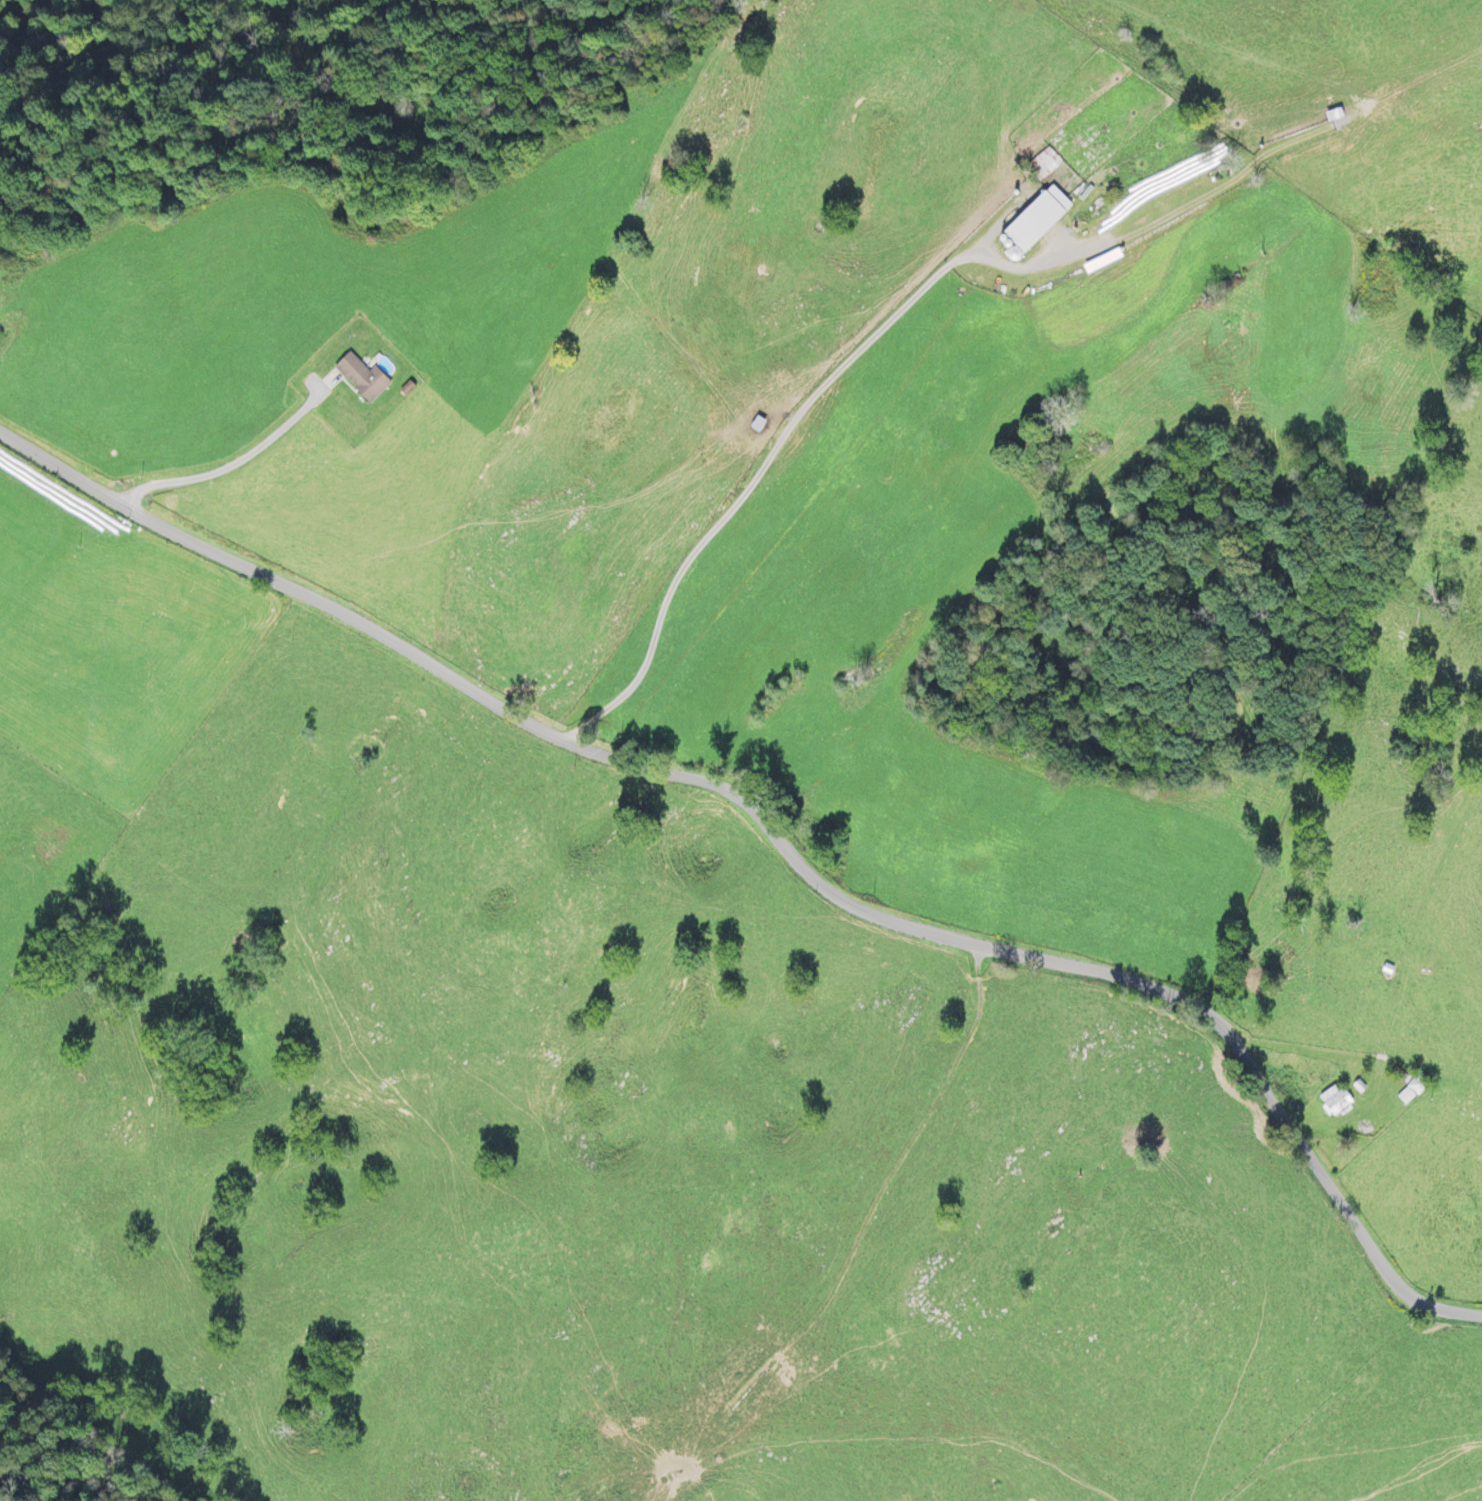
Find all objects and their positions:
building: (1042, 165)
building: (1033, 221)
building: (361, 377)
building: (757, 424)
road: (779, 846)
building: (1412, 1089)
building: (1334, 1102)

